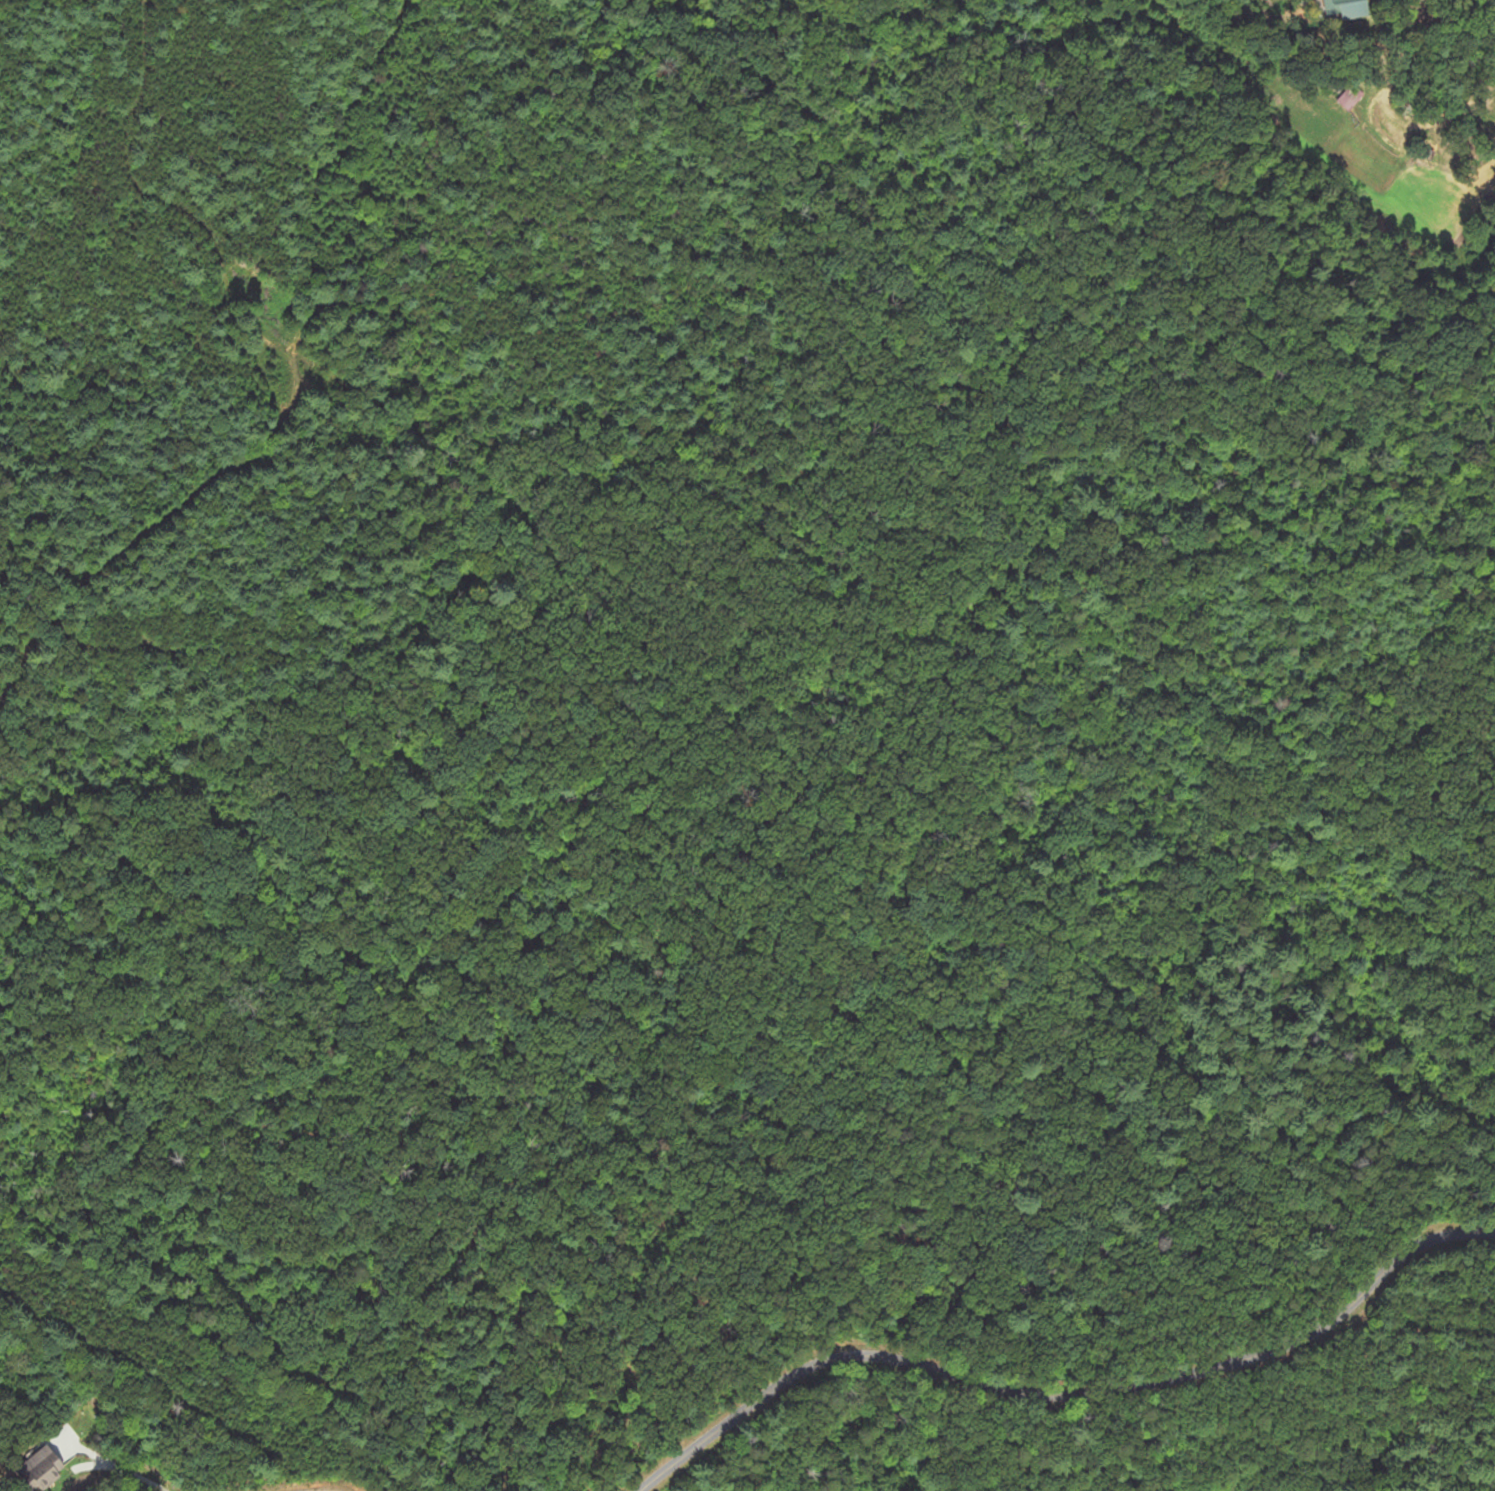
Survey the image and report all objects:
building: (1346, 9)
road: (1056, 1380)
building: (41, 1469)
road: (313, 1487)

